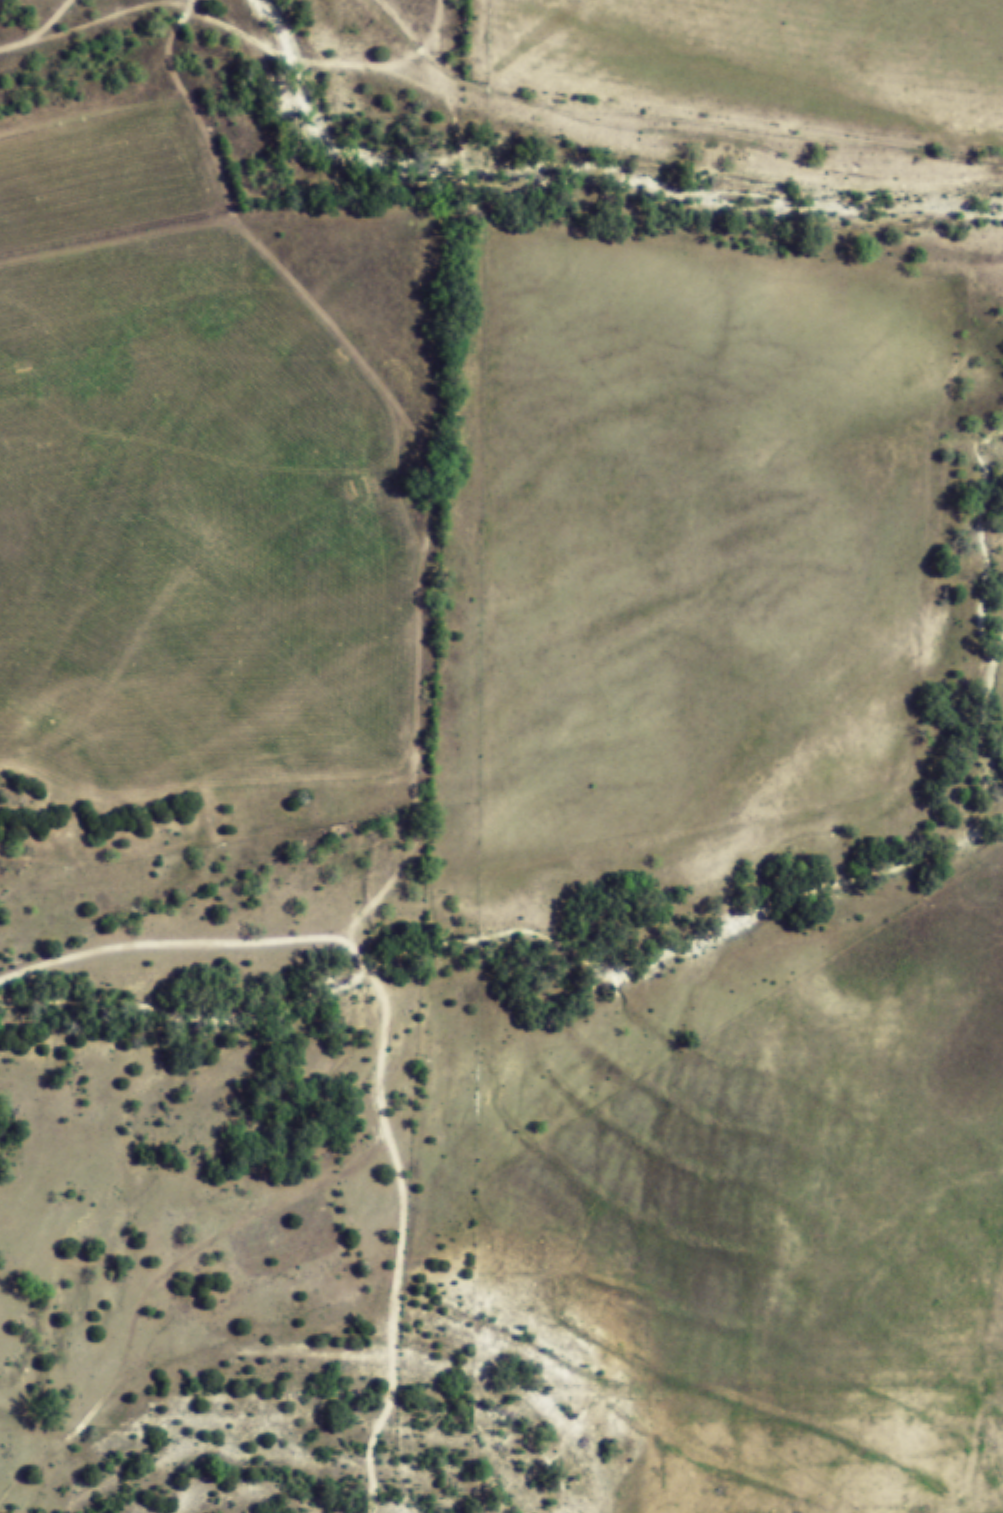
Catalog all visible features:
road: (240, 35)
road: (676, 131)

